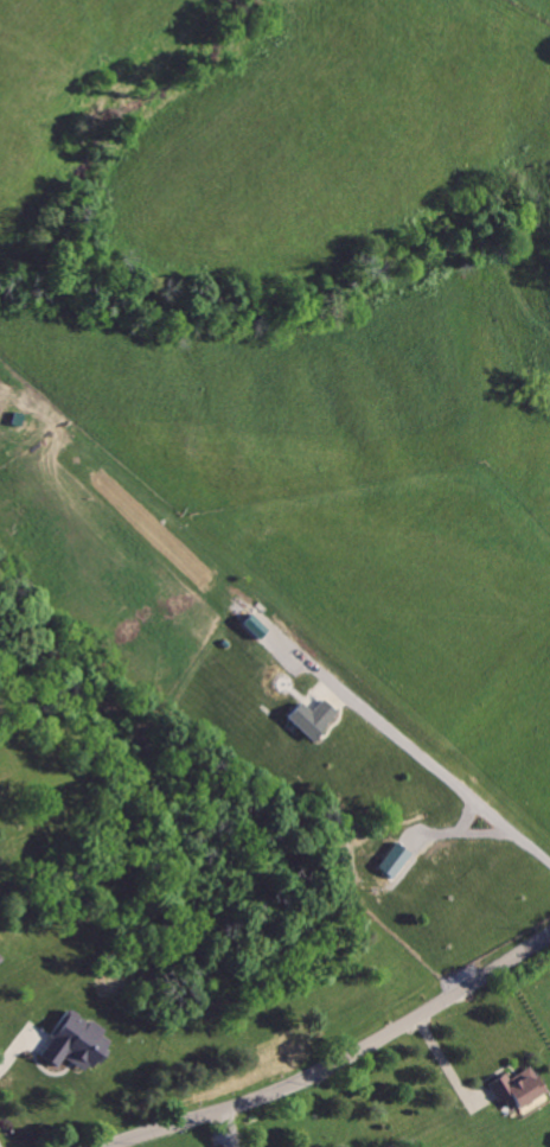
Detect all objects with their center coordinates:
building: (256, 627)
building: (312, 719)
road: (447, 773)
building: (396, 861)
building: (1, 958)
building: (73, 1043)
road: (335, 1059)
road: (449, 1066)
building: (517, 1089)

